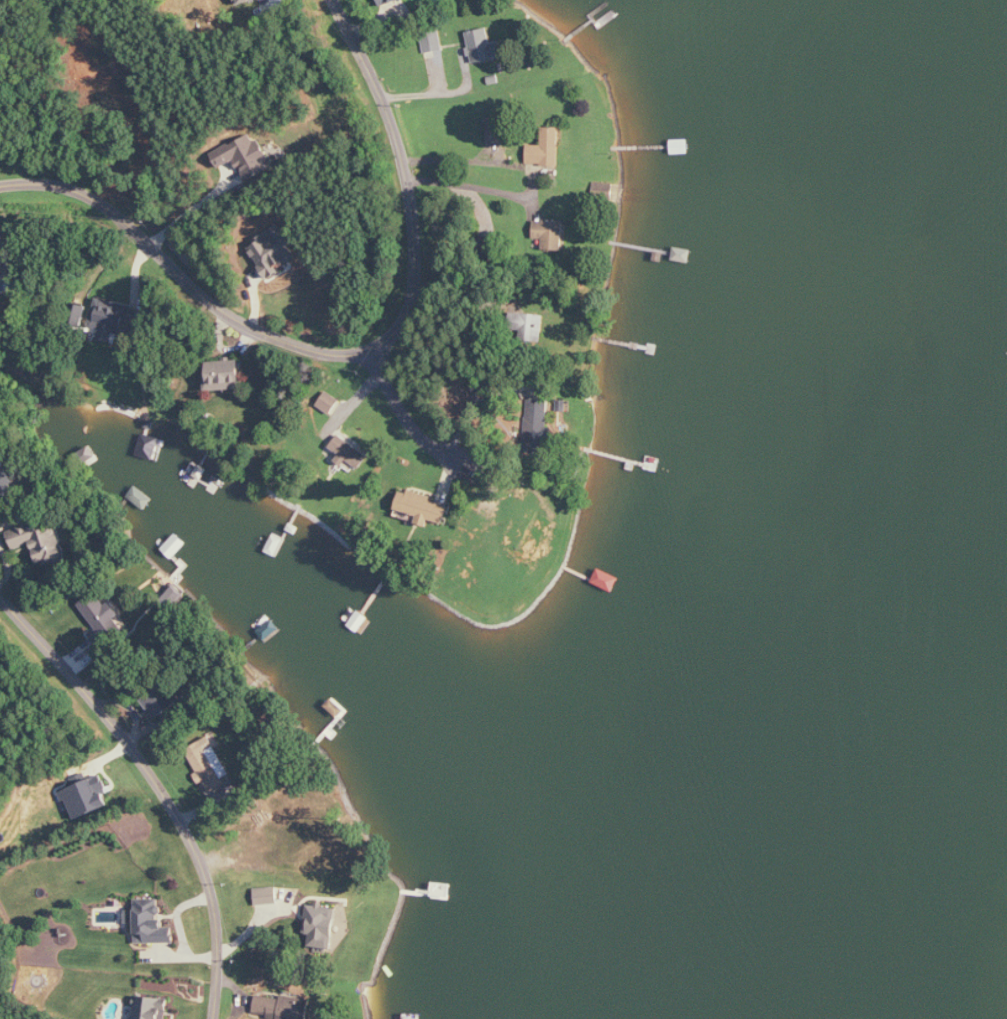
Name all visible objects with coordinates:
building: (388, 2)
building: (482, 46)
building: (495, 129)
building: (545, 149)
building: (244, 156)
road: (193, 211)
building: (550, 233)
building: (272, 252)
building: (7, 254)
building: (112, 321)
building: (530, 326)
road: (357, 354)
building: (224, 375)
building: (329, 402)
road: (406, 416)
building: (538, 426)
building: (349, 453)
building: (7, 484)
building: (421, 506)
building: (40, 541)
building: (103, 618)
building: (158, 702)
building: (208, 763)
road: (159, 783)
building: (87, 797)
building: (307, 842)
building: (267, 896)
building: (149, 922)
building: (321, 927)
building: (281, 1007)
building: (151, 1008)

